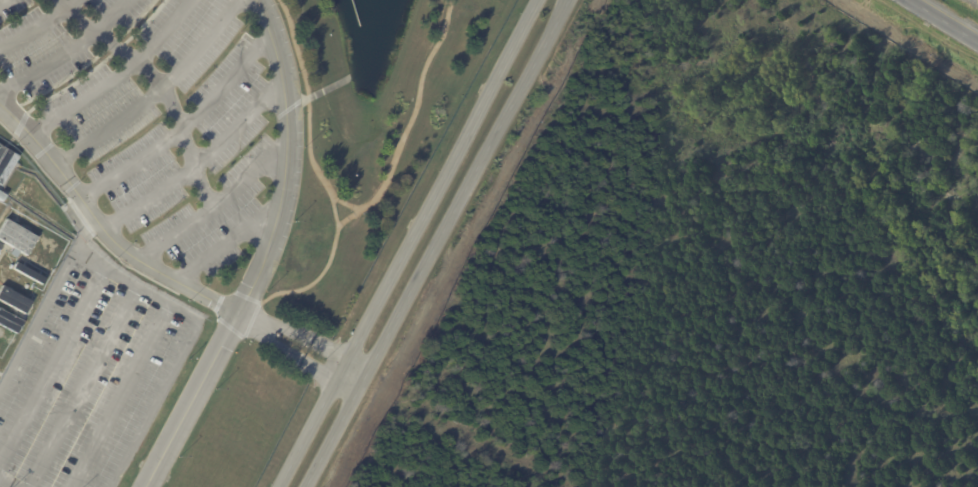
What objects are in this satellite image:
road: (943, 21)
road: (116, 76)
road: (177, 123)
road: (289, 143)
building: (6, 162)
road: (249, 176)
road: (69, 181)
building: (29, 214)
building: (16, 239)
road: (423, 243)
building: (28, 273)
road: (202, 294)
building: (13, 300)
building: (9, 322)
road: (266, 330)
road: (70, 333)
building: (3, 348)
road: (181, 358)
road: (199, 386)
road: (3, 485)

